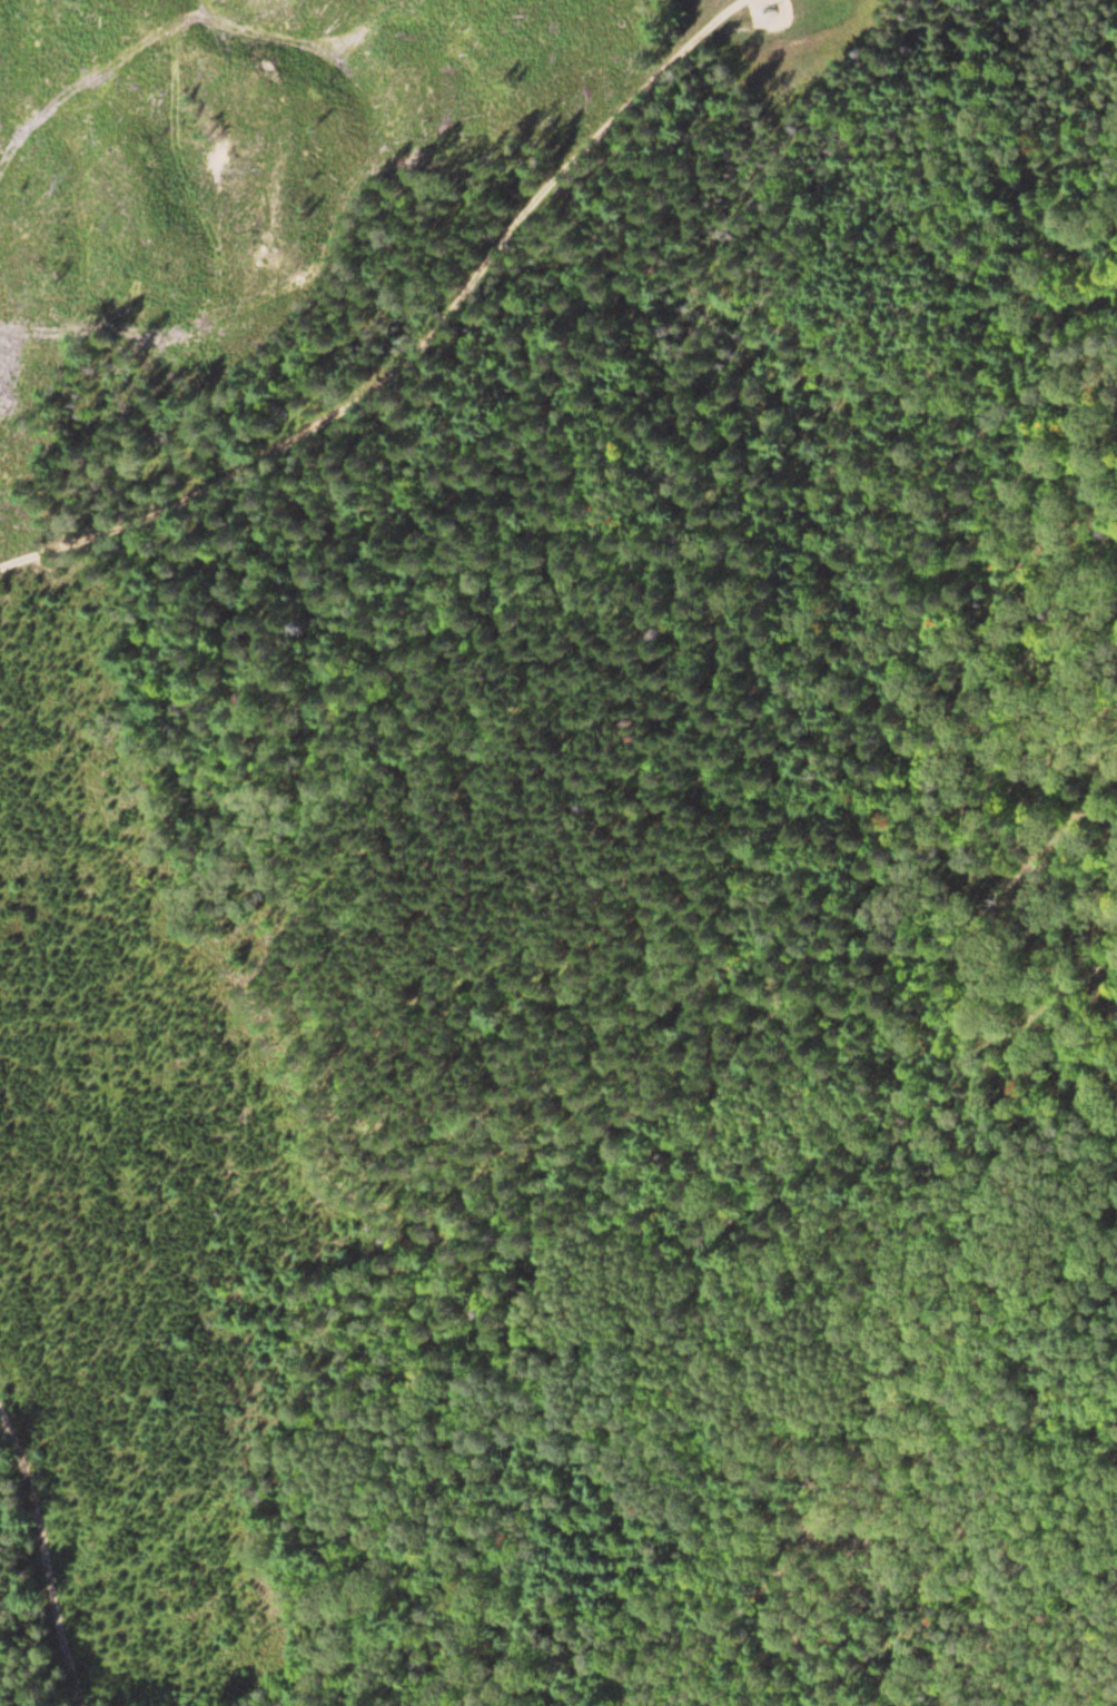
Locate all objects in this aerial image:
road: (428, 346)
road: (49, 1559)

